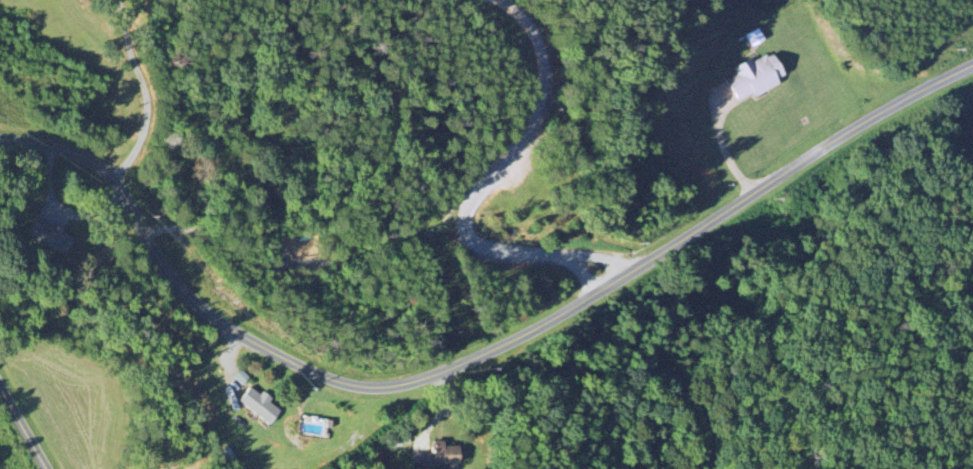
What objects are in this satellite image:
road: (122, 20)
road: (97, 26)
building: (757, 38)
building: (758, 77)
road: (147, 112)
road: (480, 185)
building: (51, 238)
road: (472, 355)
building: (242, 378)
building: (261, 407)
road: (20, 433)

